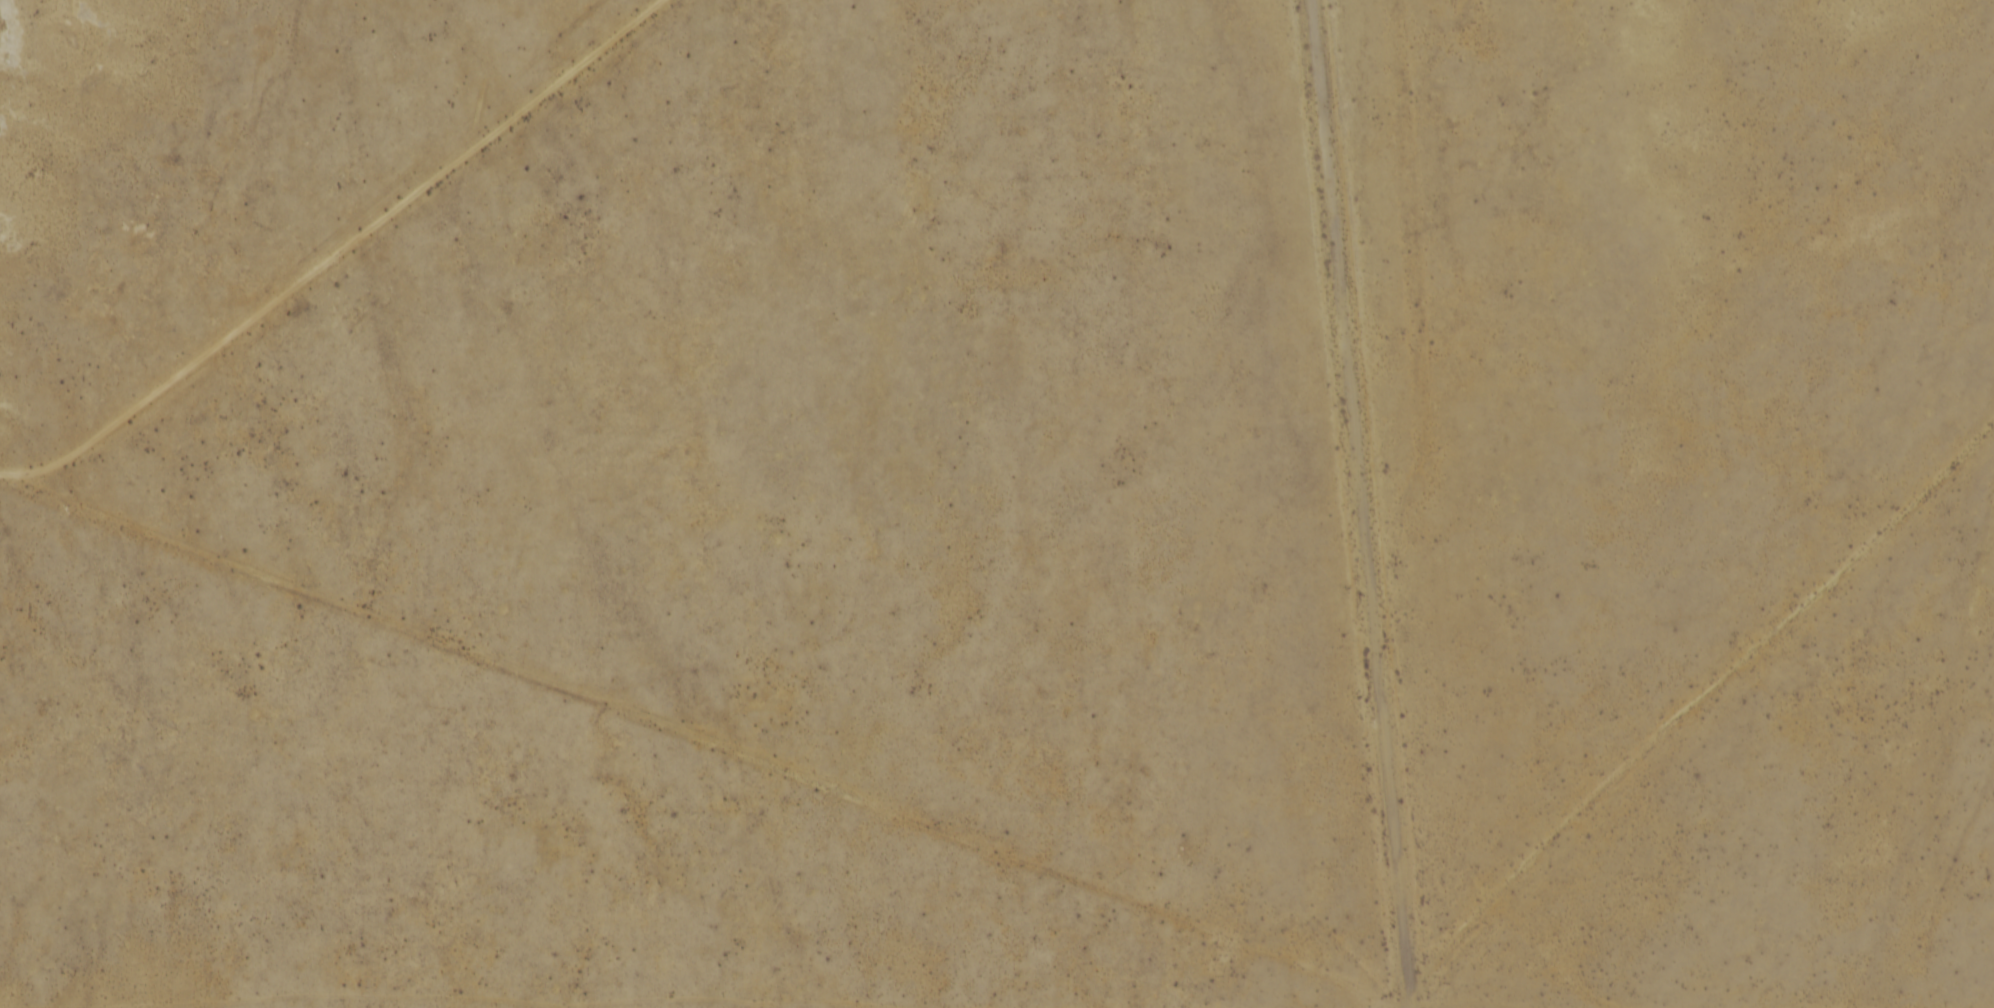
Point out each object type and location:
airport runway: (1407, 229)
road: (1361, 504)

